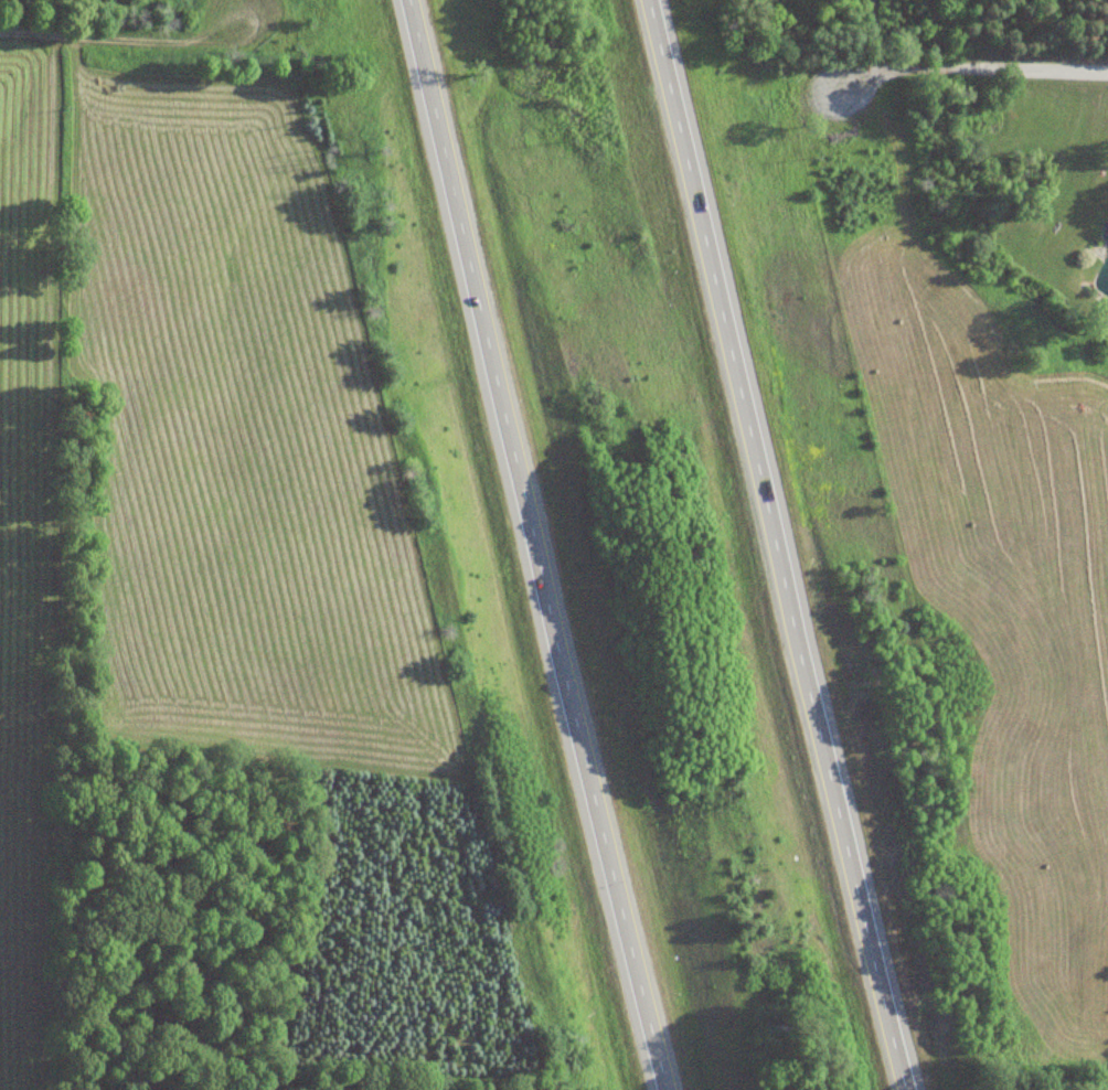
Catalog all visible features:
road: (71, 36)
road: (970, 72)
road: (781, 543)
road: (537, 544)

